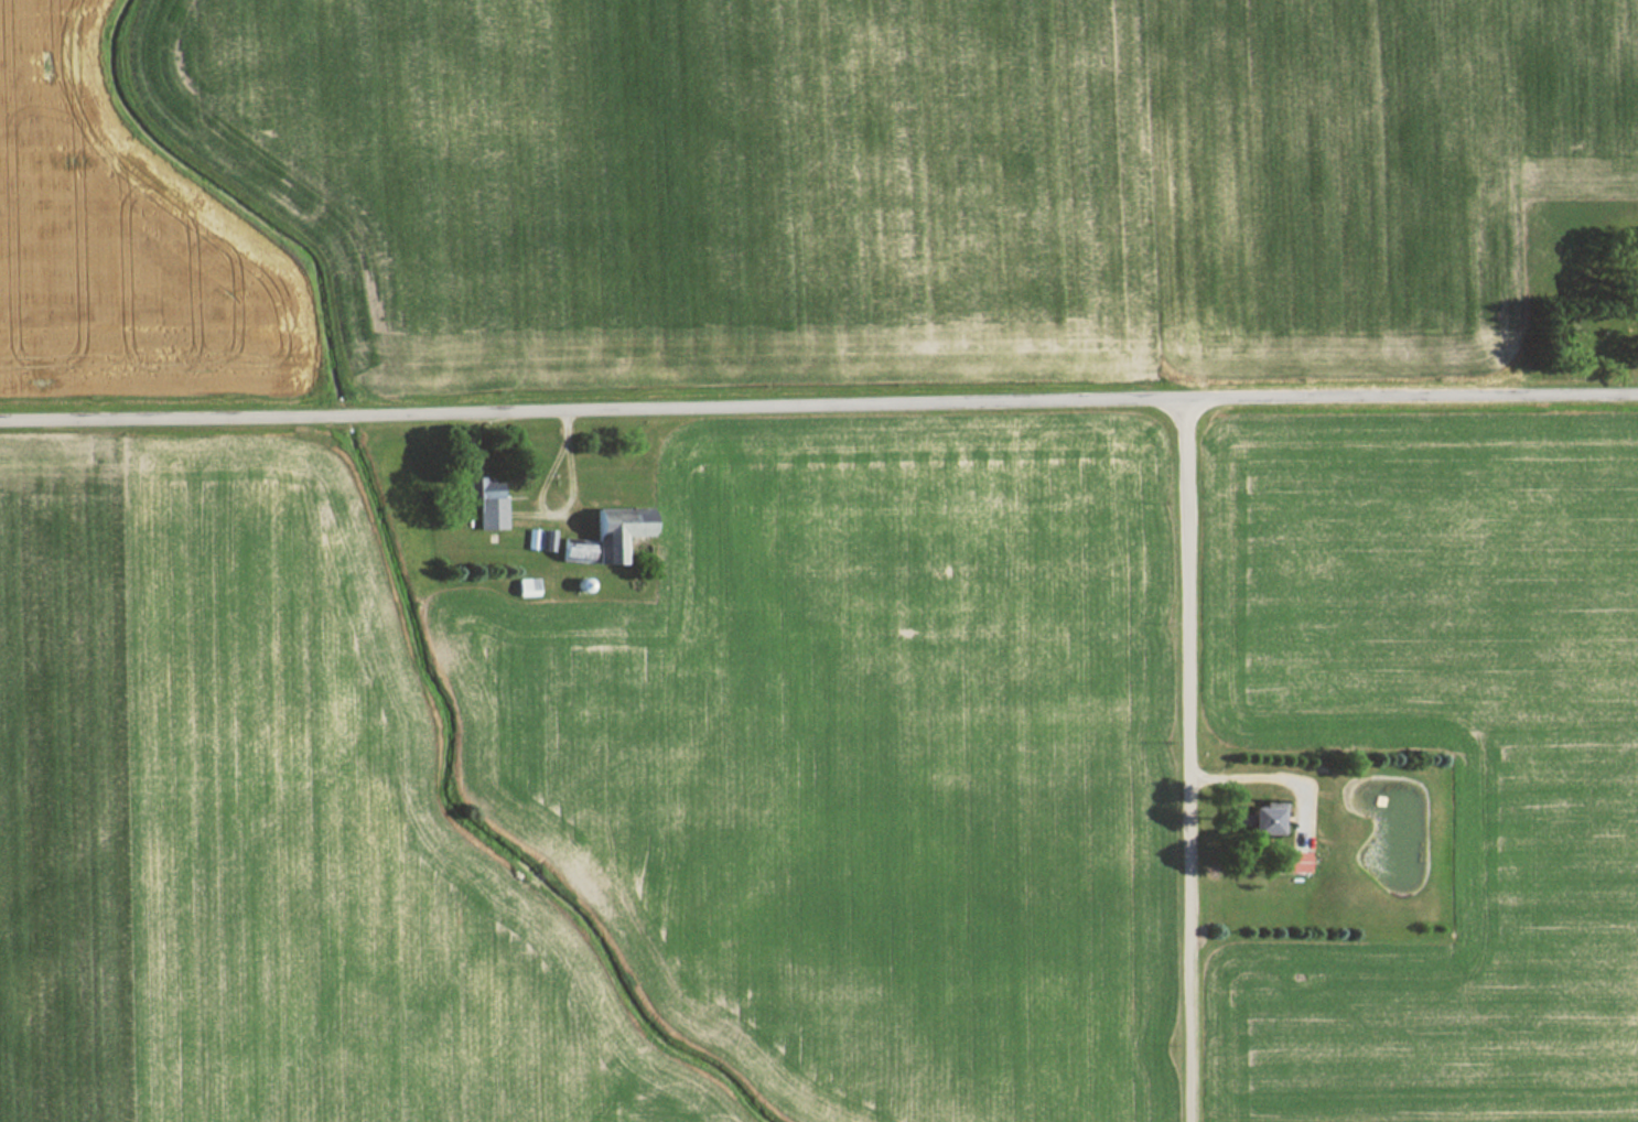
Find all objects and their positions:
crop: (917, 173)
crop: (111, 246)
road: (818, 408)
road: (1188, 762)
crop: (864, 769)
crop: (248, 840)
crop: (1543, 851)

